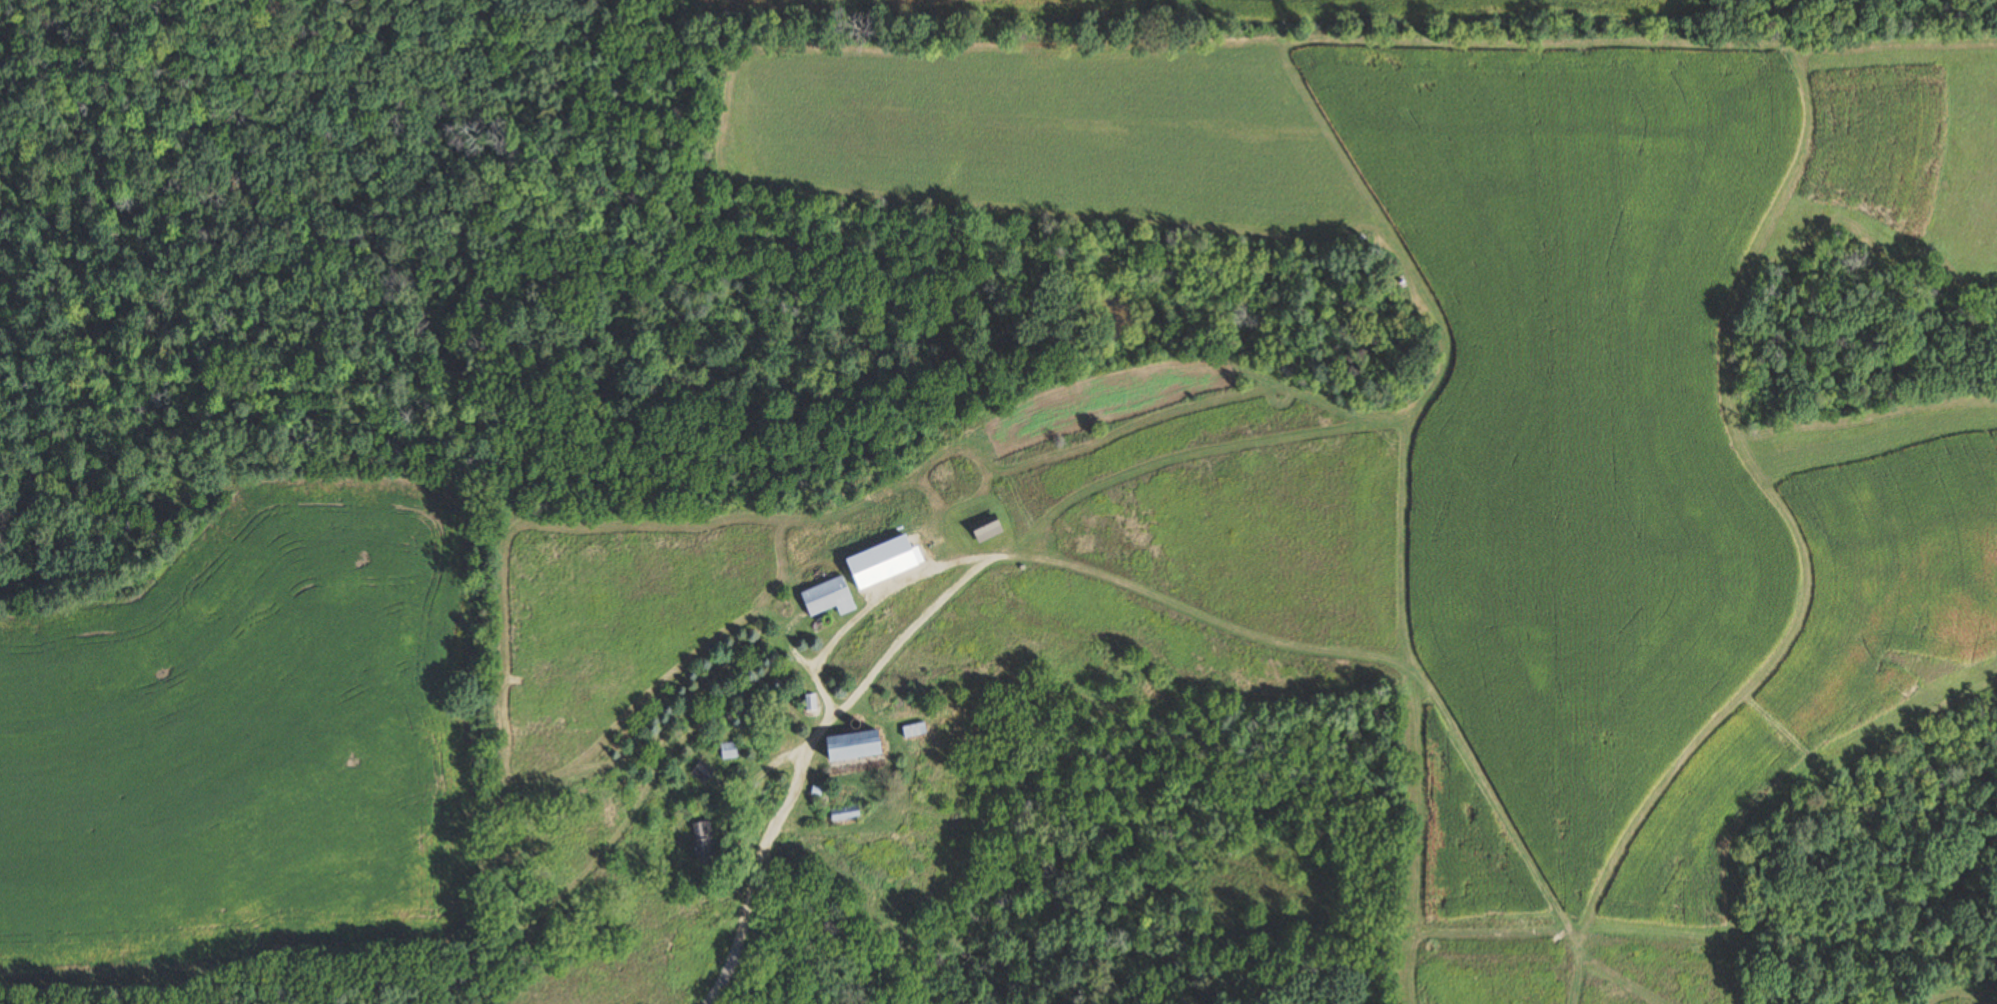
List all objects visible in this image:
building: (983, 528)
building: (825, 598)
building: (847, 746)
building: (726, 751)
building: (700, 772)
building: (700, 840)
road: (726, 969)

